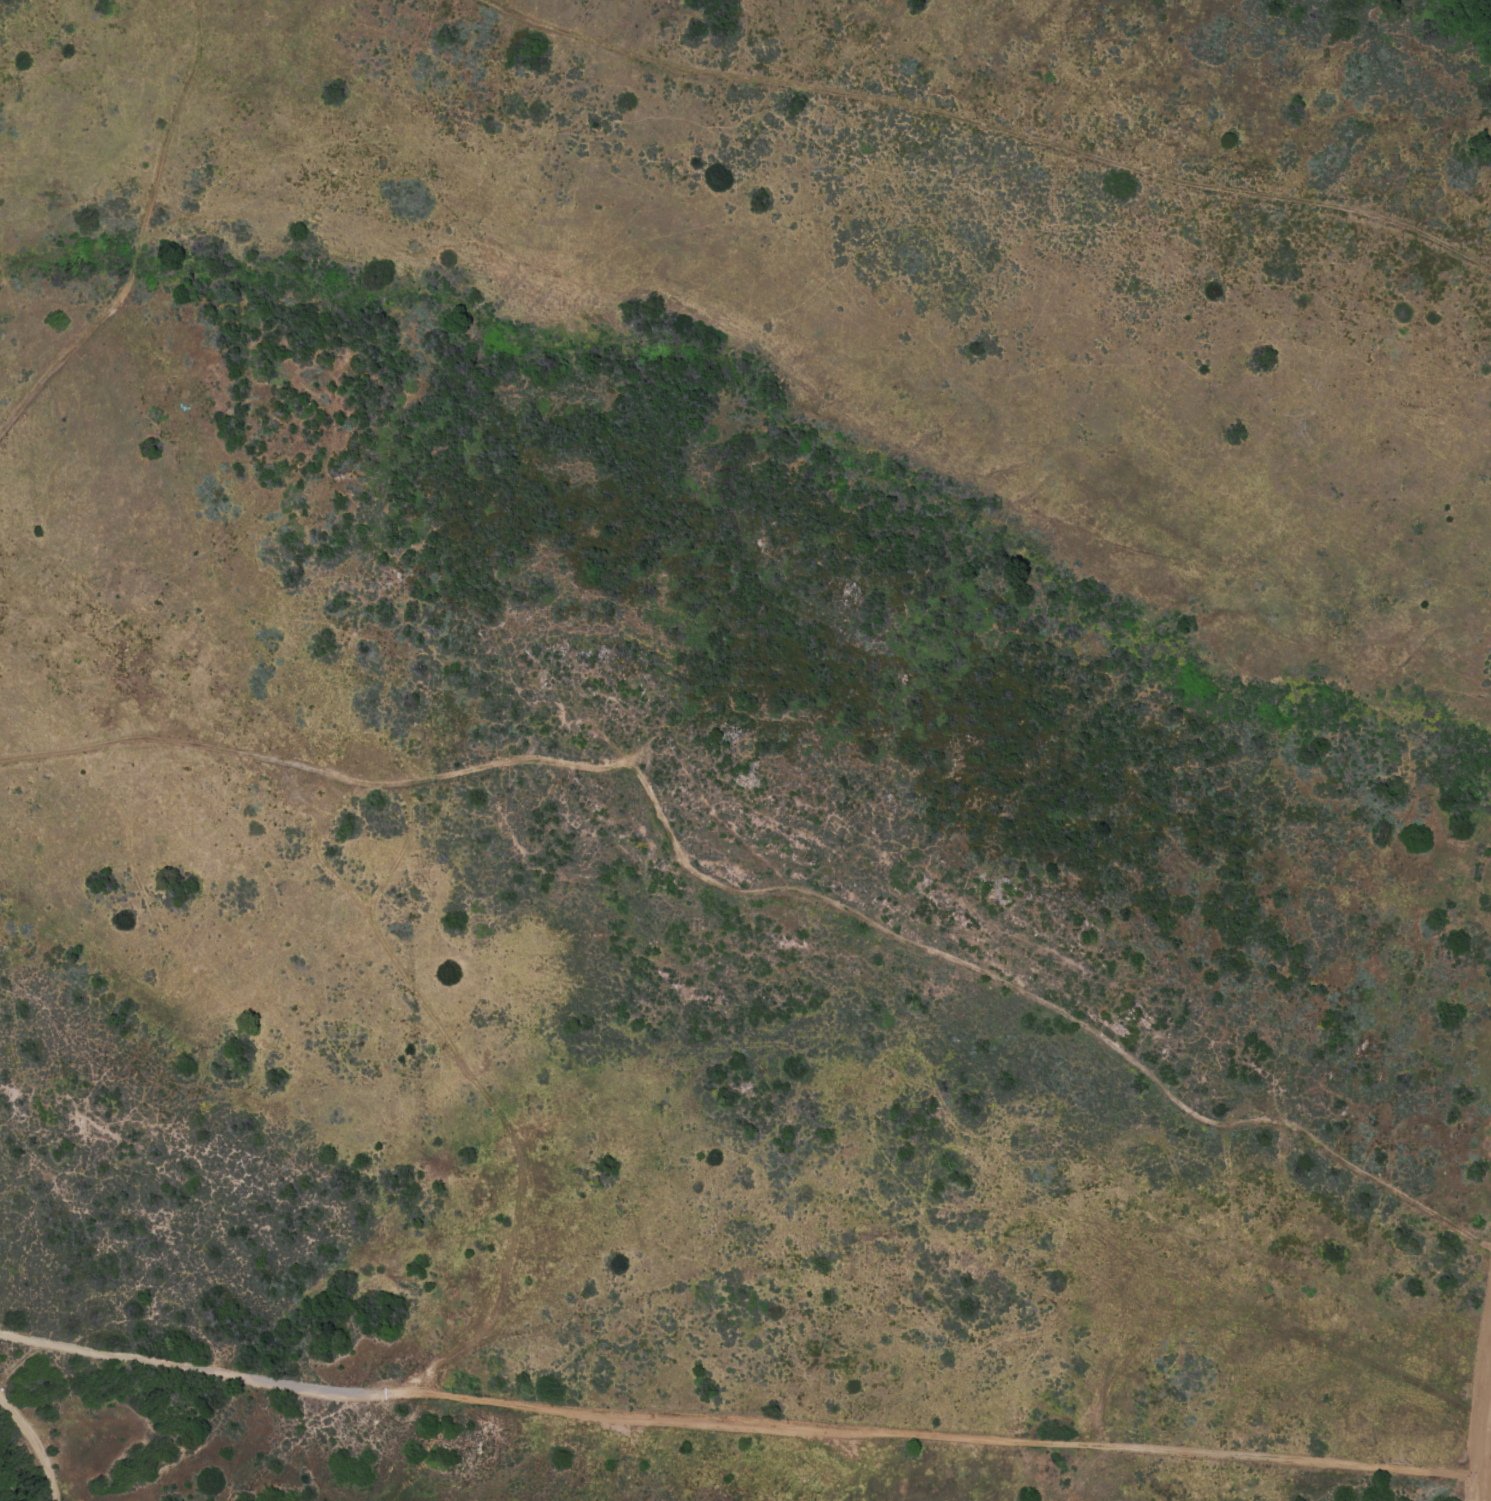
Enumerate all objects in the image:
road: (1484, 1448)

